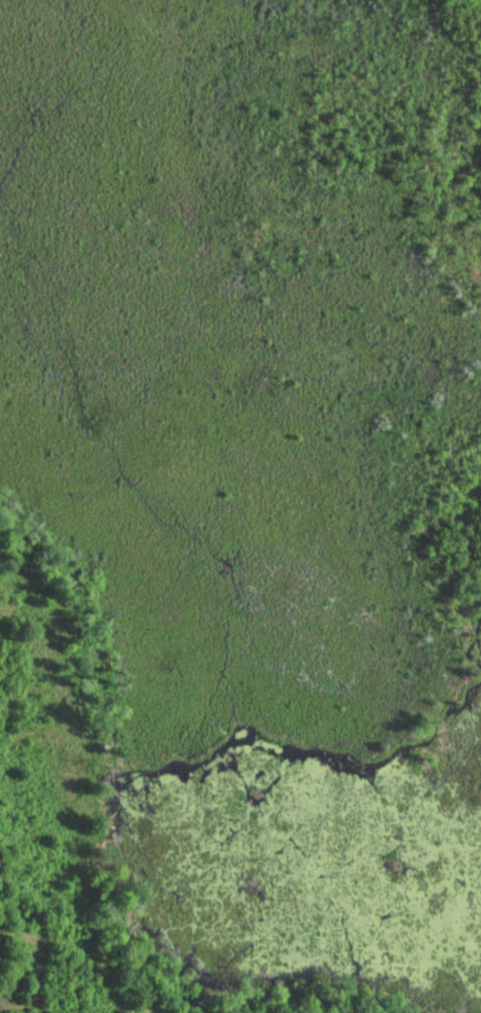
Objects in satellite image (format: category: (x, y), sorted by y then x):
road: (4, 1008)

